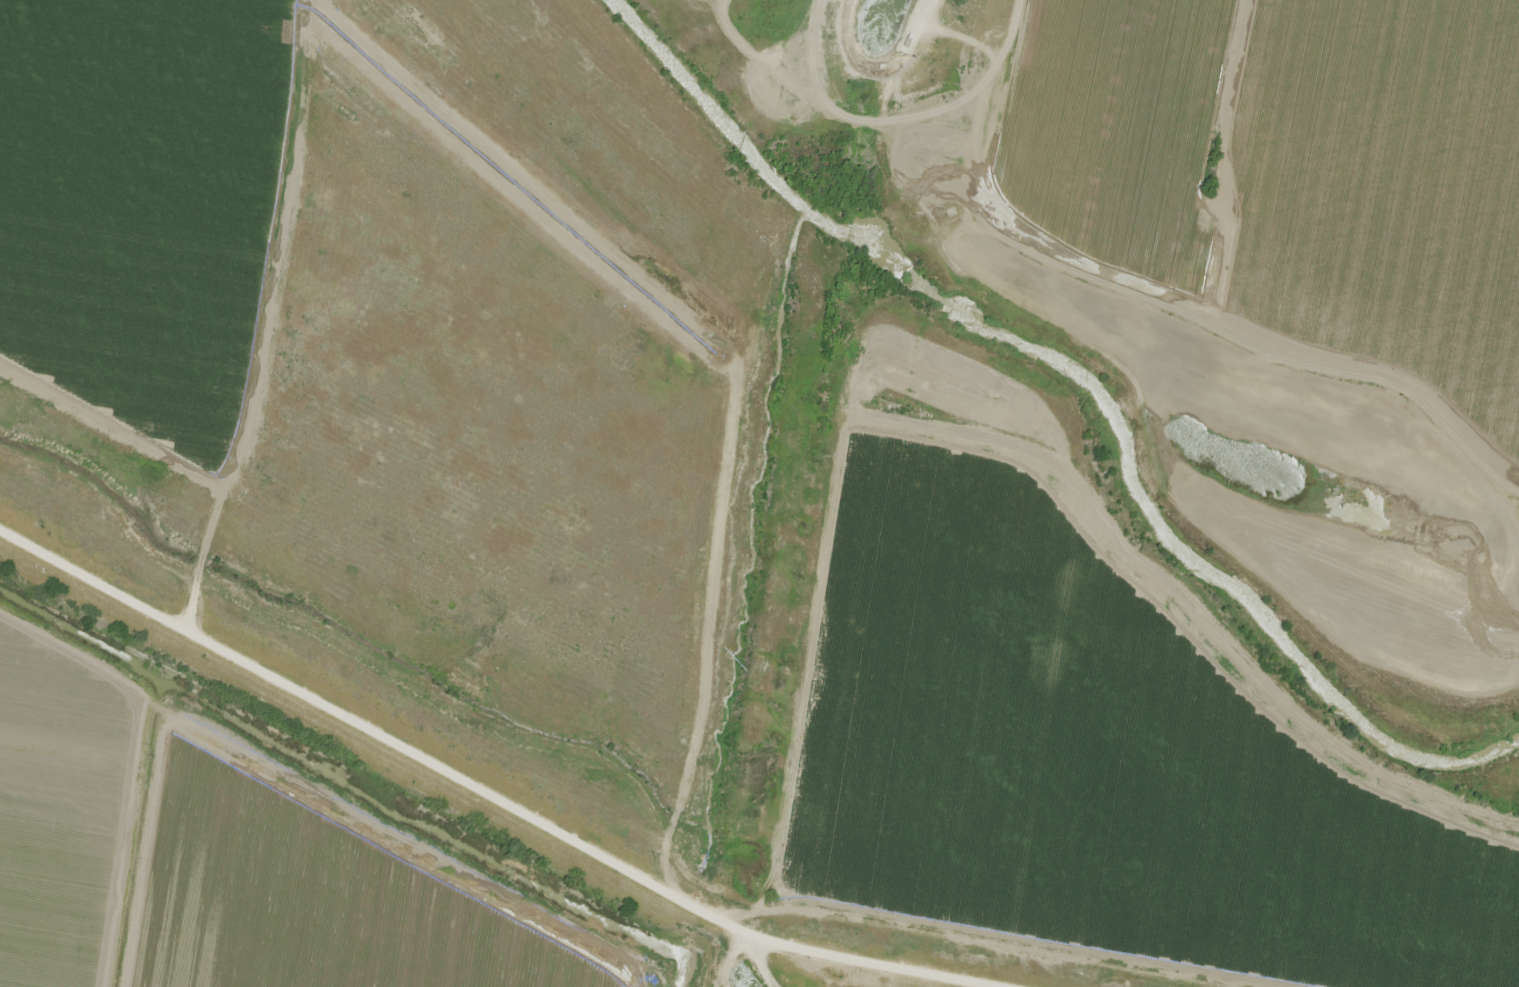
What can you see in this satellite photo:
road: (940, 33)
road: (862, 46)
road: (245, 307)
river: (752, 587)
road: (395, 721)
road: (880, 954)

